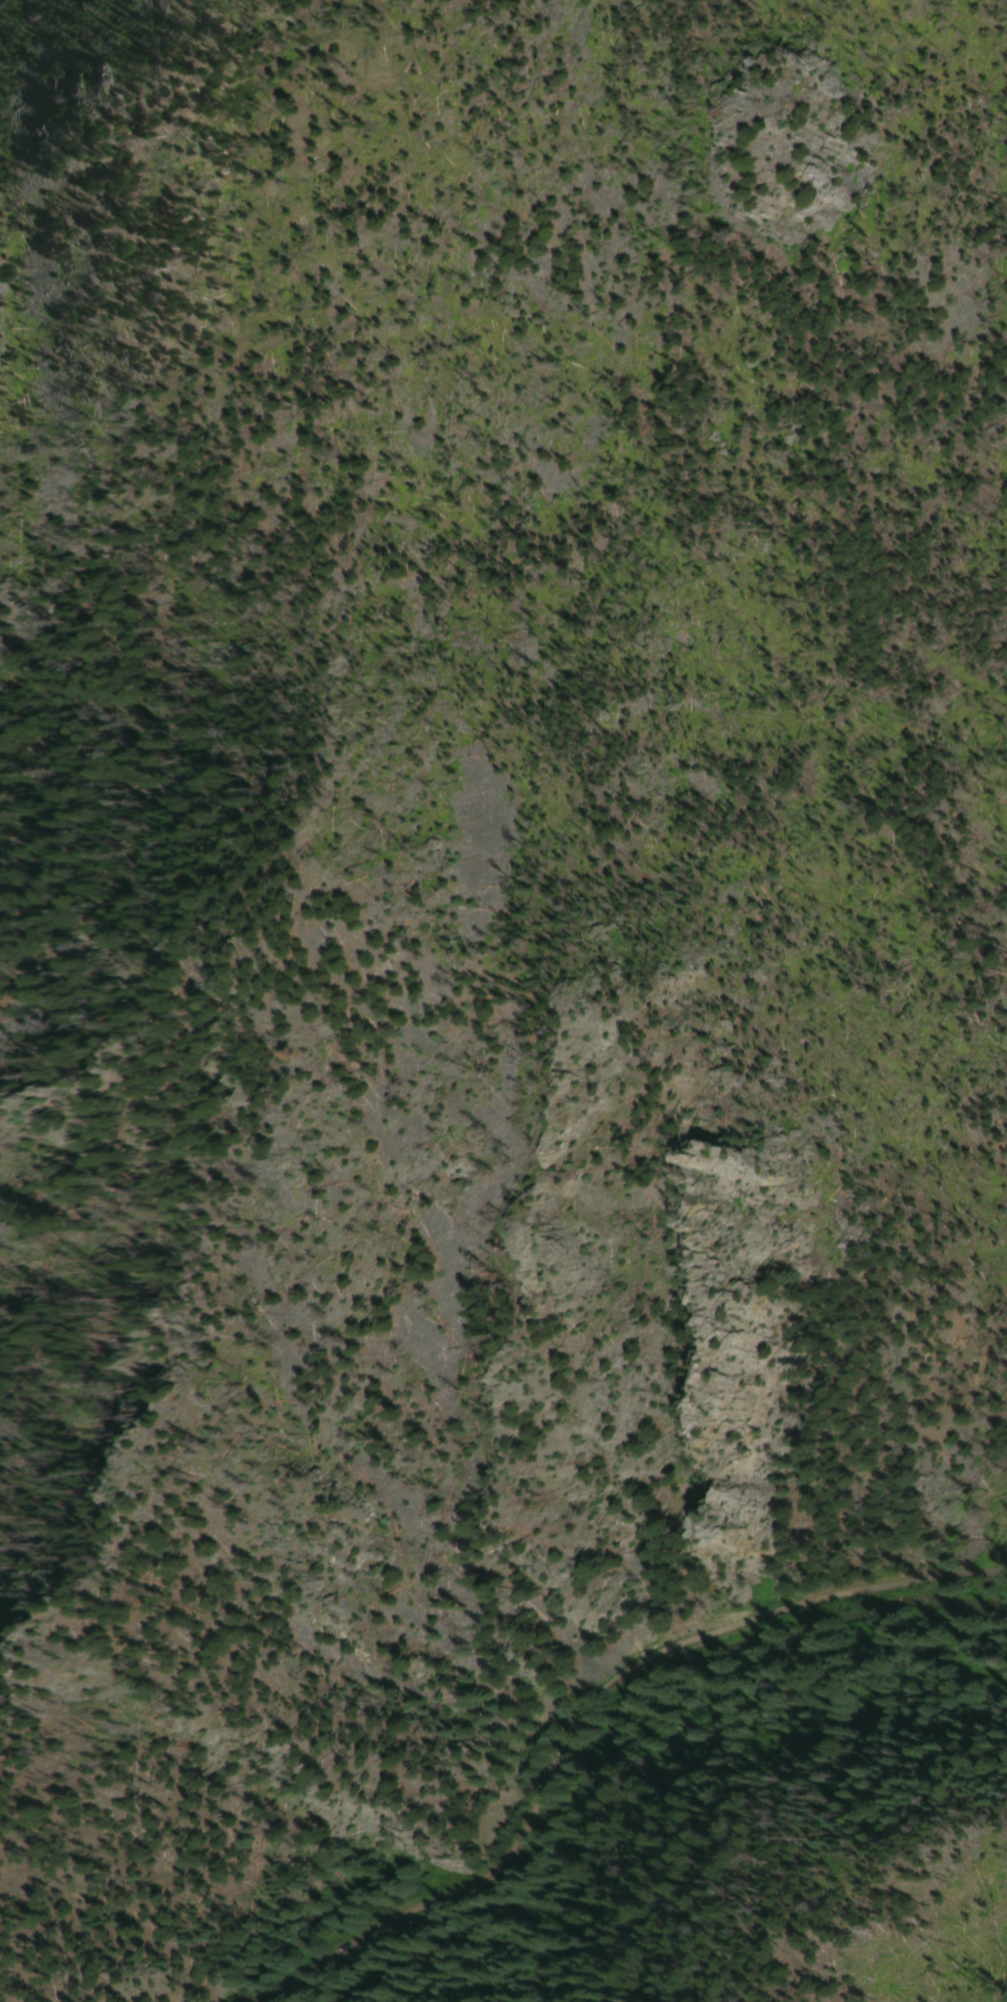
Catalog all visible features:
road: (581, 1706)
river: (610, 1725)

